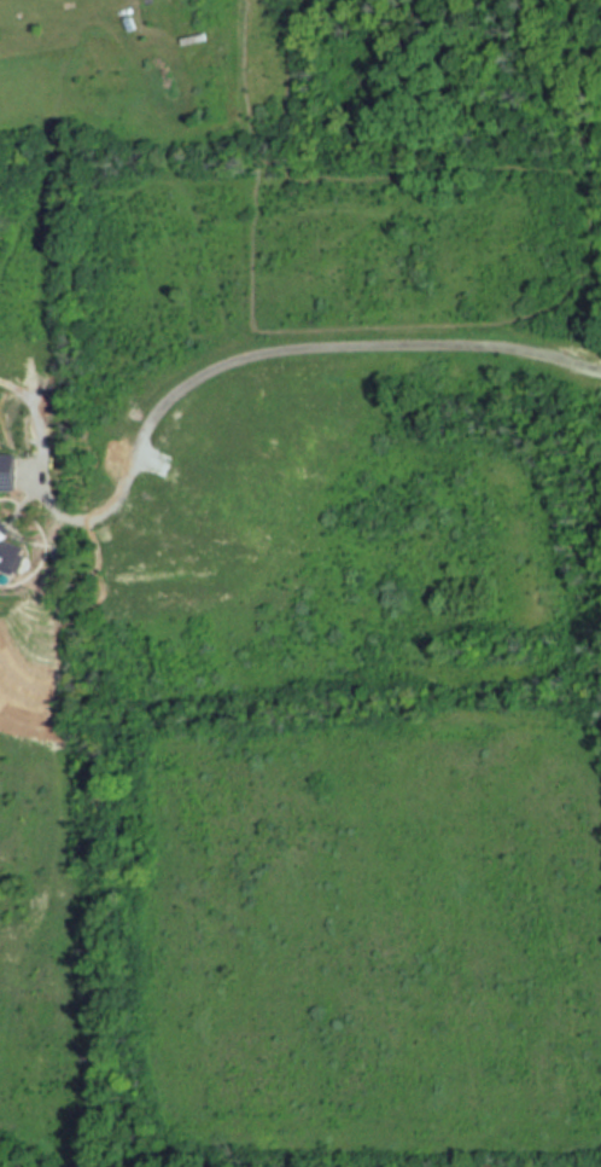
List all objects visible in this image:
road: (284, 360)
building: (7, 469)
building: (8, 555)

